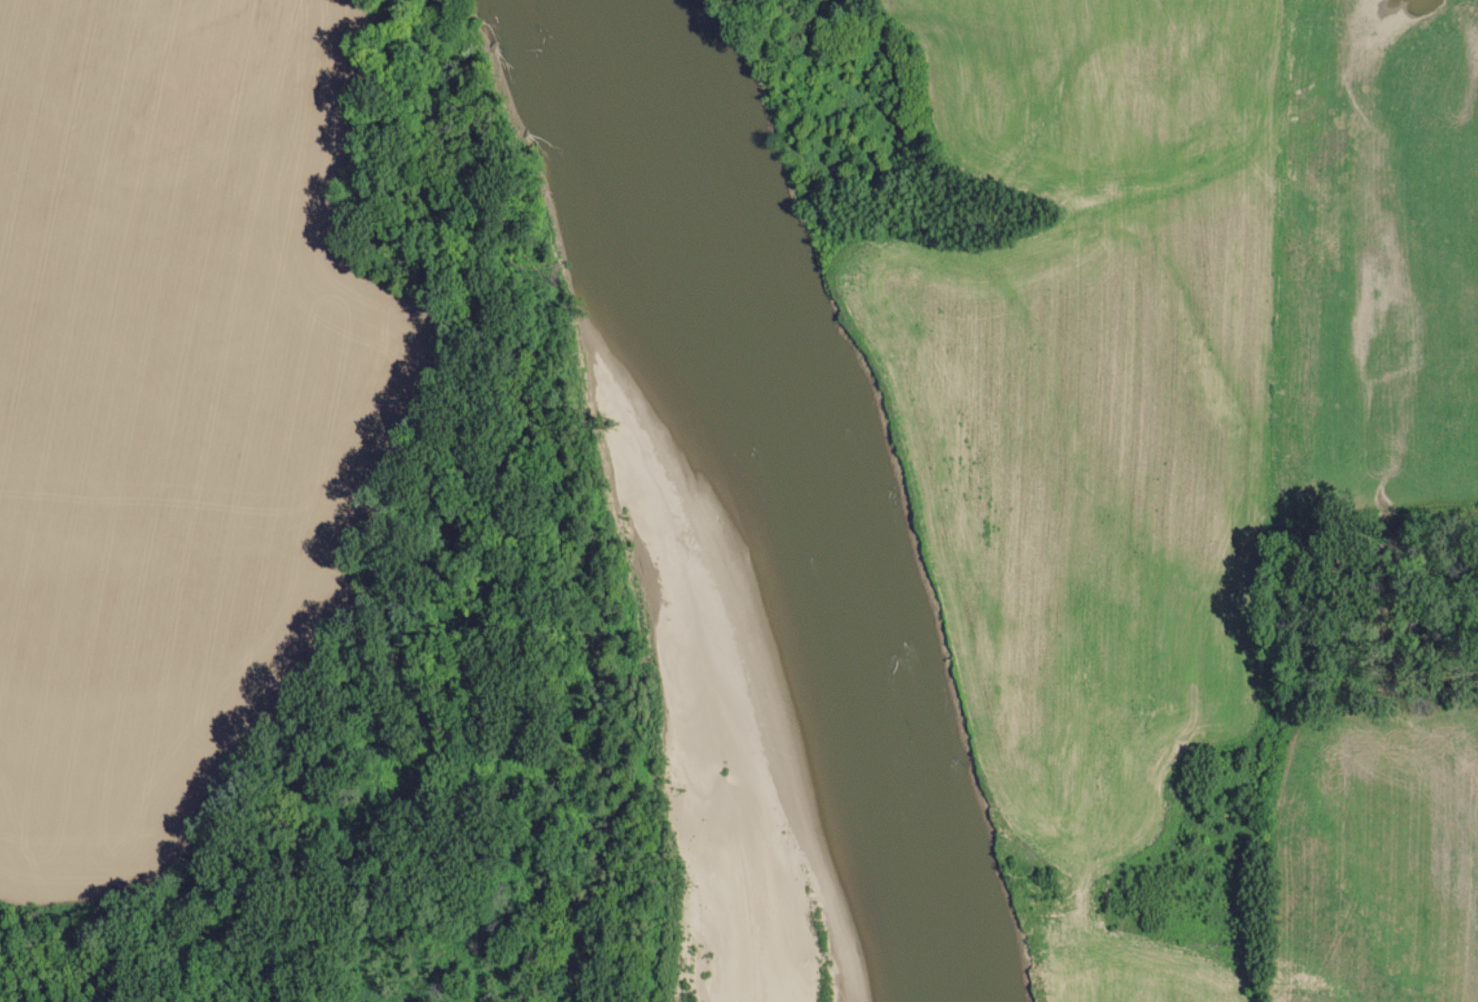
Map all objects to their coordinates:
river: (781, 488)

